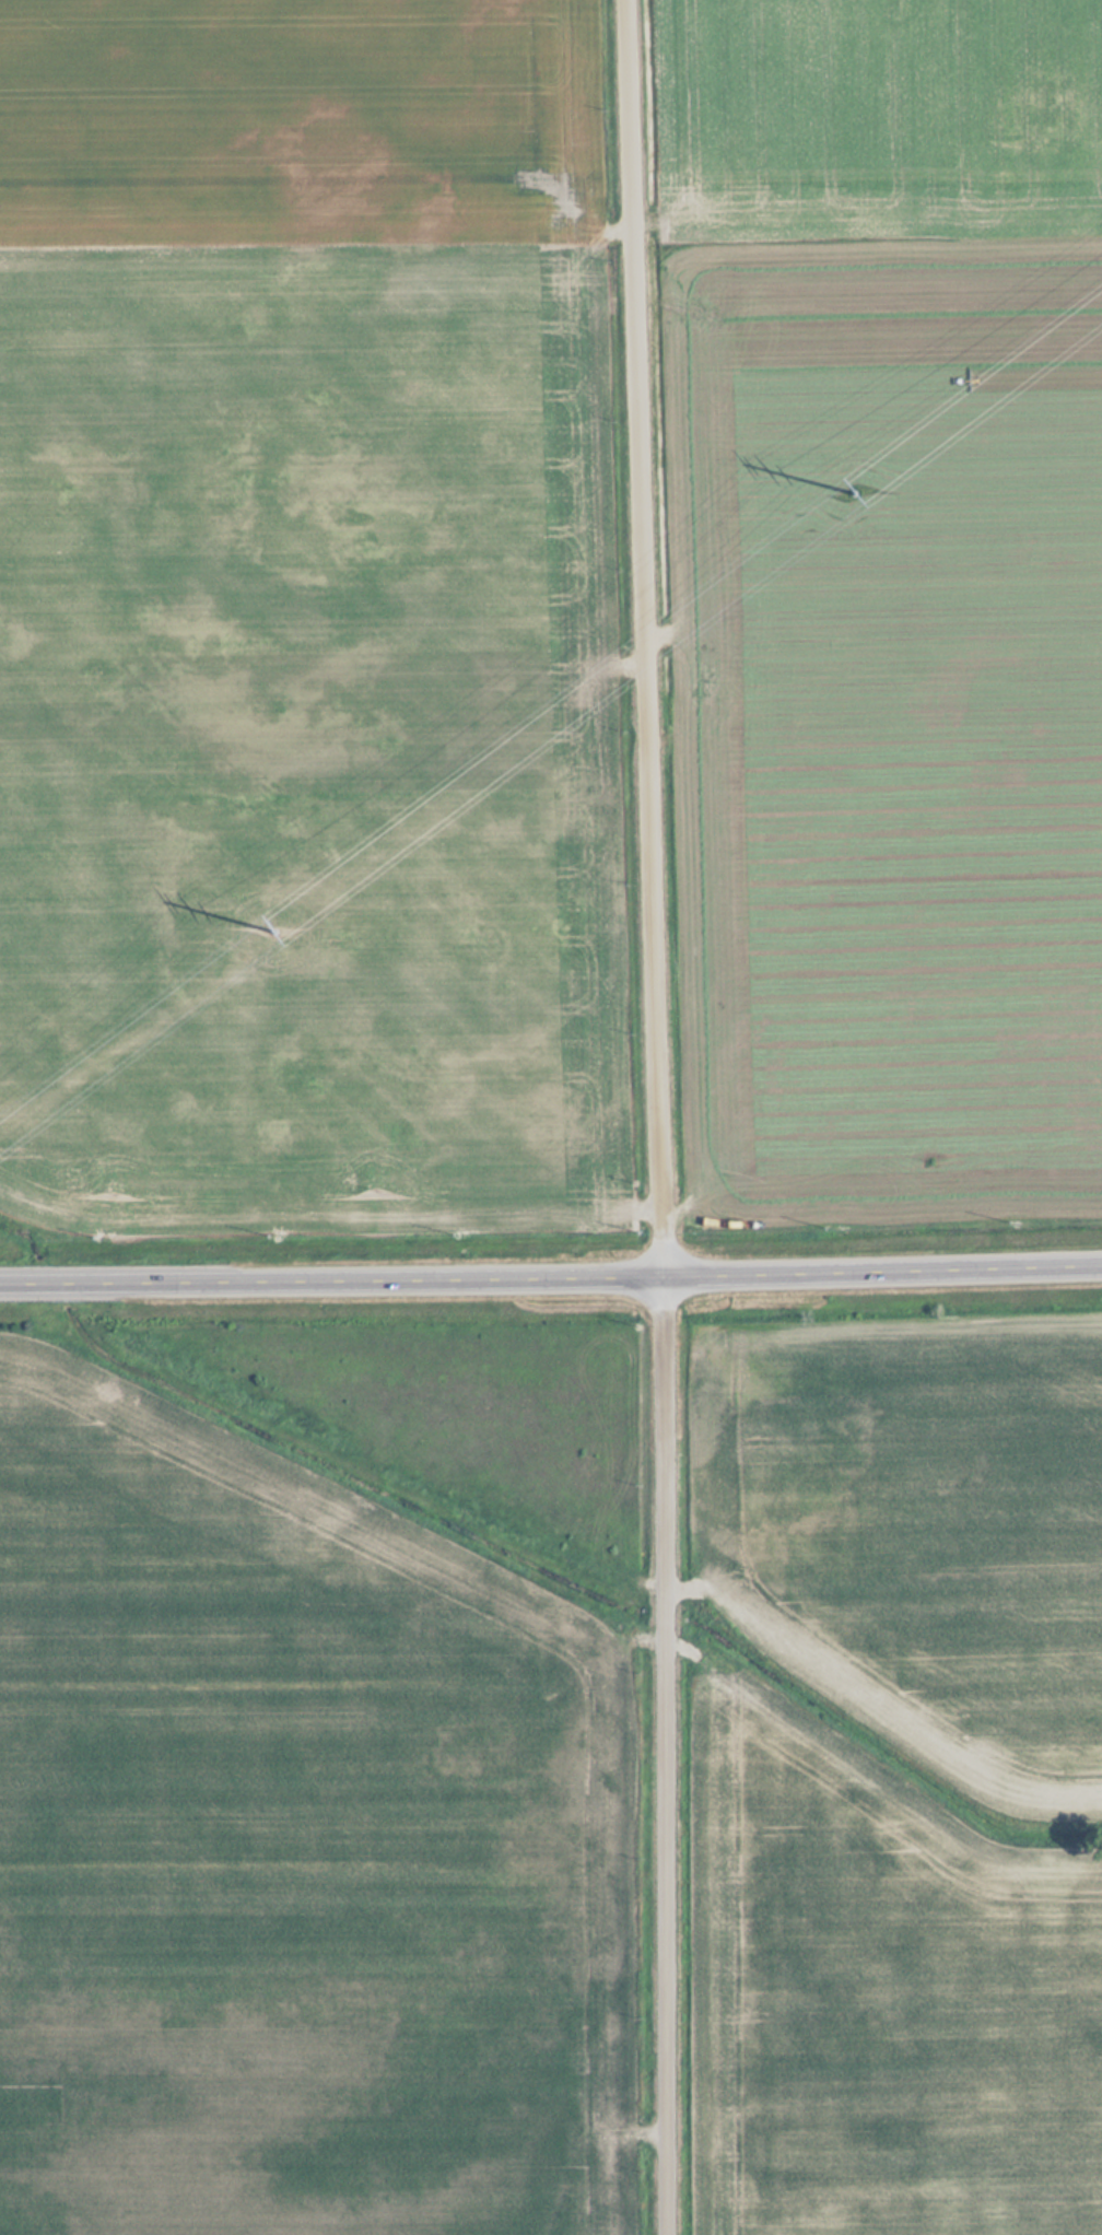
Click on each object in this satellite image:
power tower: (874, 491)
road: (647, 636)
power tower: (272, 931)
road: (551, 1275)
road: (664, 1754)

